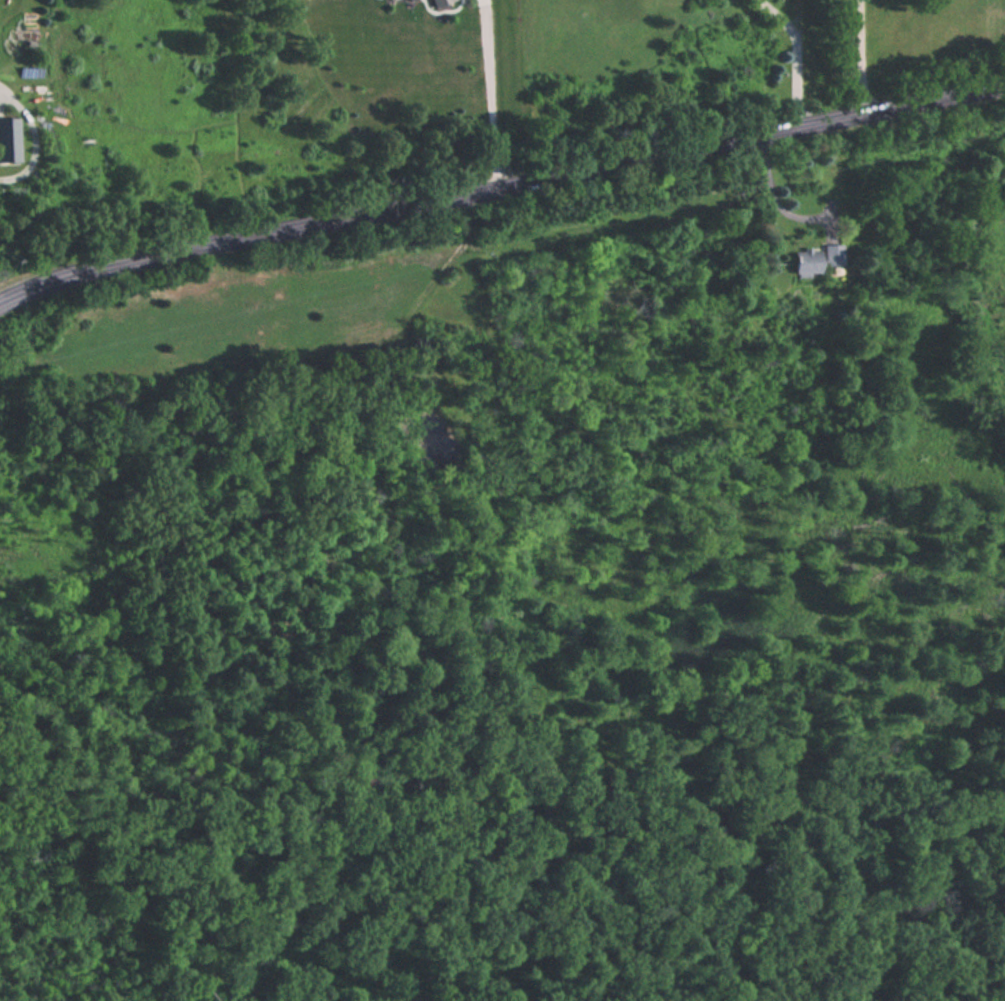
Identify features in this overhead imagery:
road: (796, 56)
road: (862, 57)
road: (492, 93)
building: (9, 137)
road: (35, 142)
road: (500, 187)
road: (775, 193)
building: (832, 255)
building: (807, 261)

